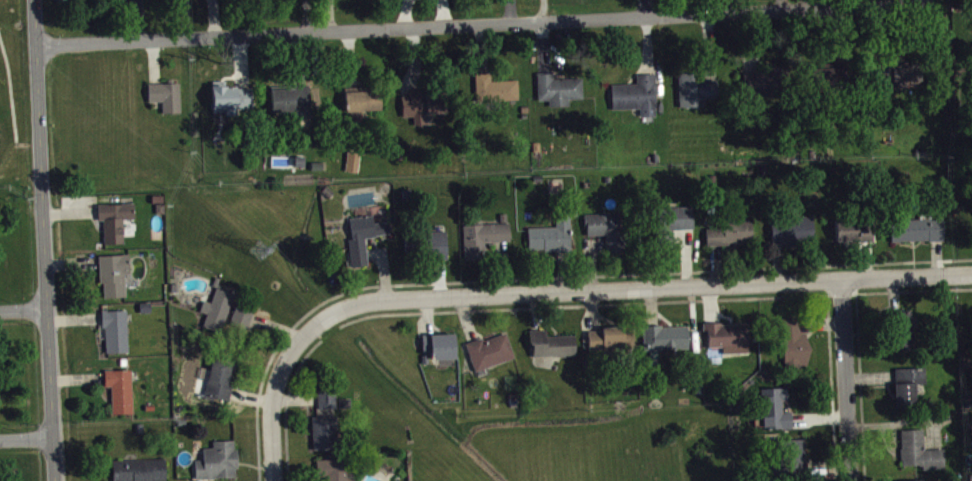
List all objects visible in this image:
road: (476, 24)
building: (900, 76)
building: (833, 77)
building: (768, 86)
building: (498, 92)
building: (561, 93)
building: (698, 93)
road: (11, 95)
building: (639, 99)
building: (168, 100)
building: (234, 103)
building: (365, 103)
building: (295, 104)
building: (426, 107)
building: (355, 165)
building: (680, 222)
building: (117, 224)
building: (608, 233)
building: (849, 233)
building: (920, 233)
building: (795, 234)
building: (732, 236)
road: (43, 240)
building: (553, 240)
building: (366, 241)
building: (485, 241)
building: (438, 248)
power tower: (267, 253)
building: (116, 278)
road: (599, 293)
road: (23, 309)
building: (220, 313)
building: (905, 334)
building: (118, 335)
building: (730, 340)
building: (668, 341)
building: (609, 343)
building: (797, 347)
building: (554, 348)
building: (442, 349)
building: (493, 355)
road: (848, 382)
building: (223, 383)
building: (911, 391)
building: (123, 394)
building: (330, 402)
building: (777, 412)
building: (328, 436)
road: (26, 438)
road: (273, 438)
building: (922, 455)
building: (796, 458)
building: (221, 464)
building: (142, 472)
building: (335, 472)

